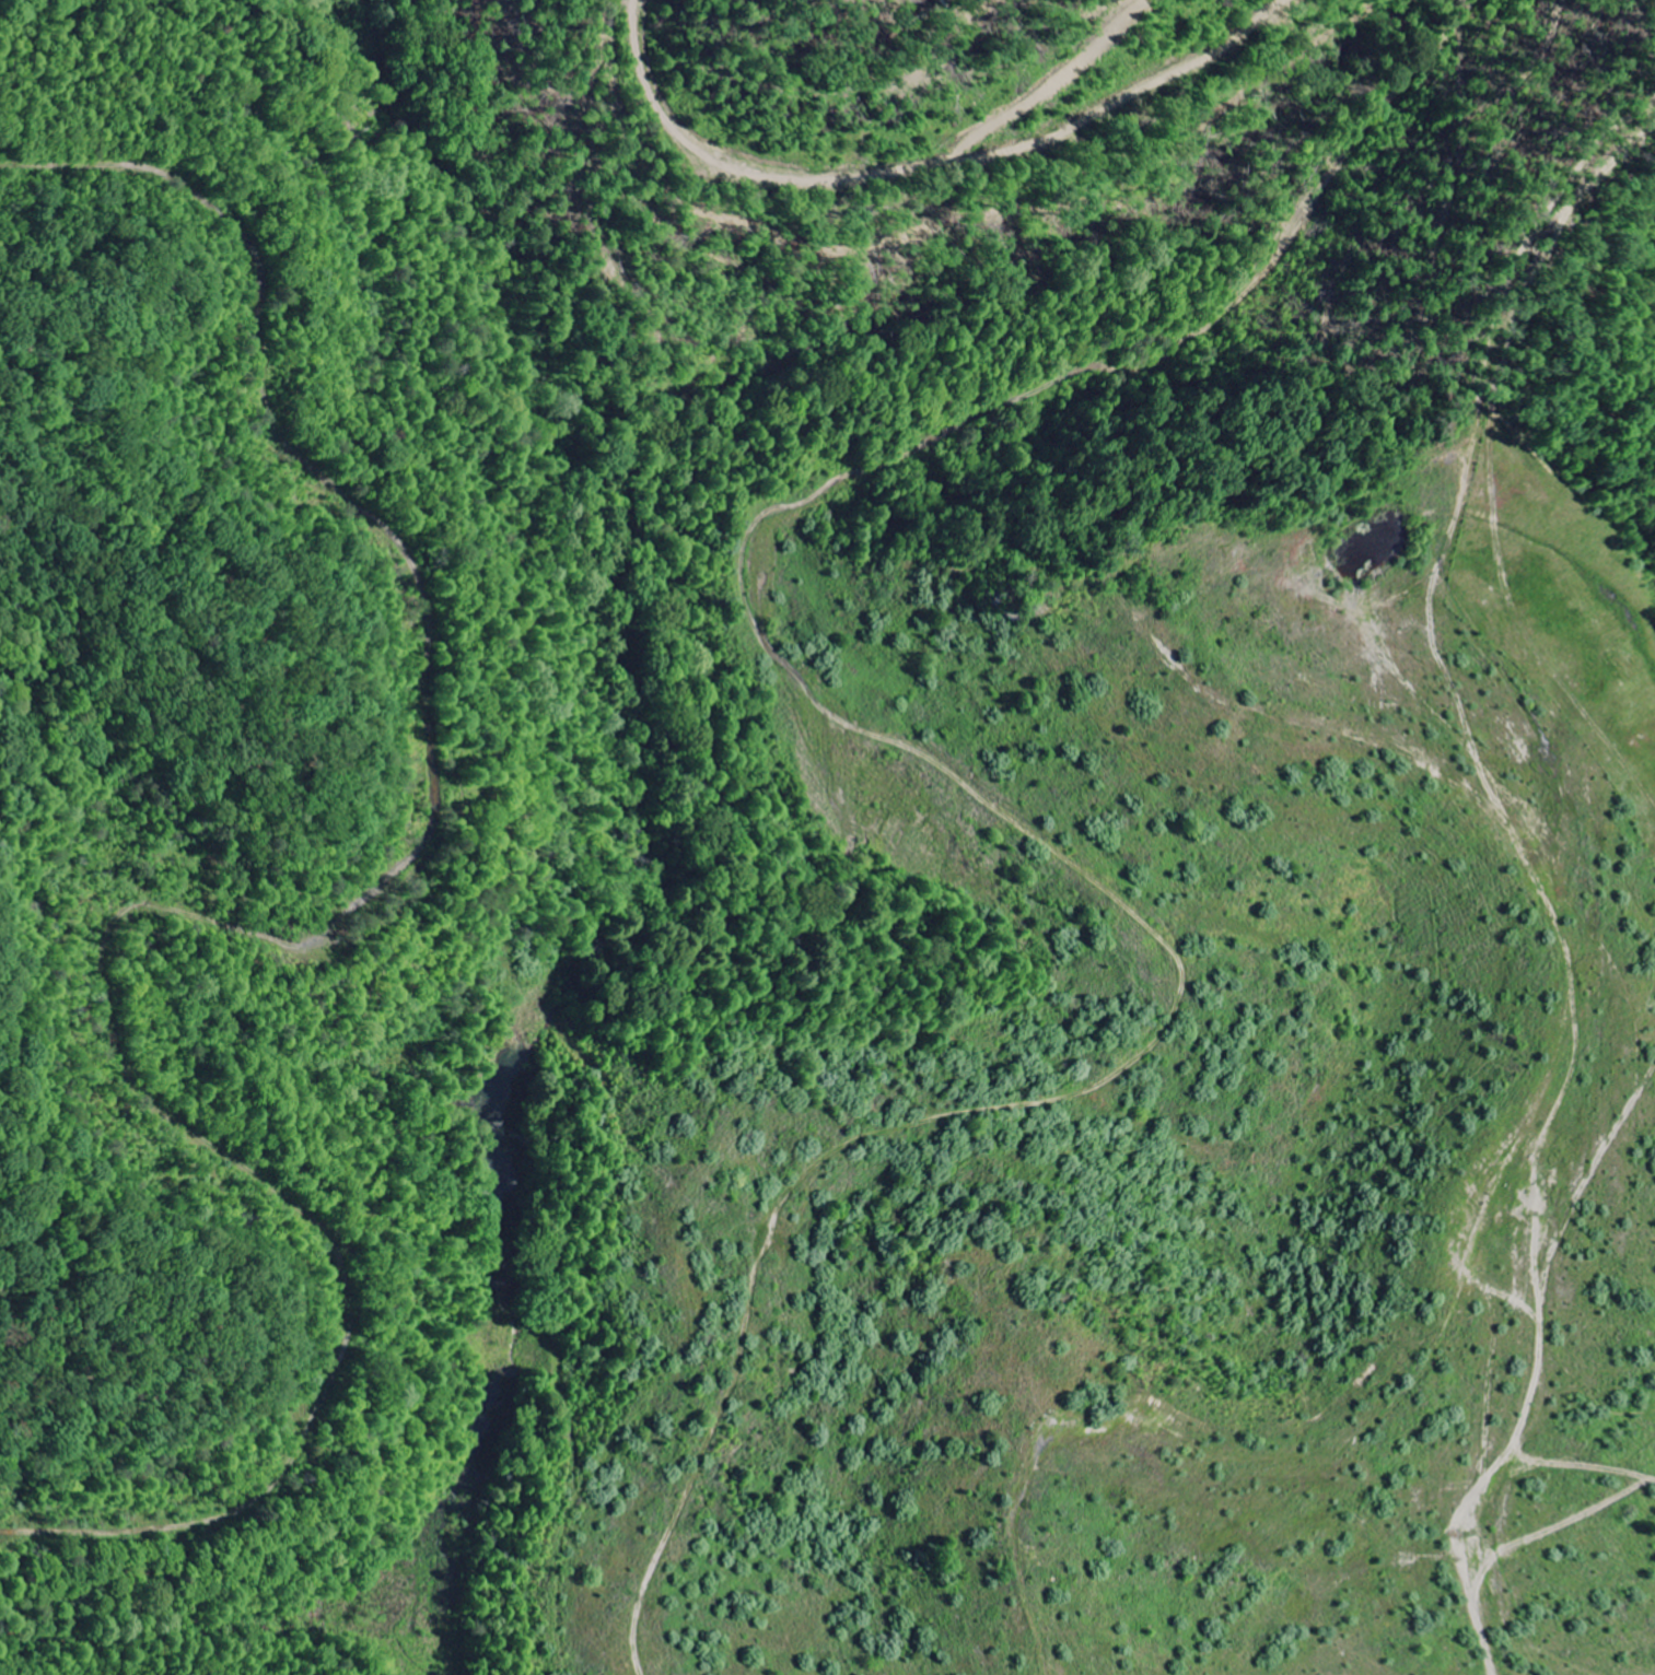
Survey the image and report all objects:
road: (361, 149)

